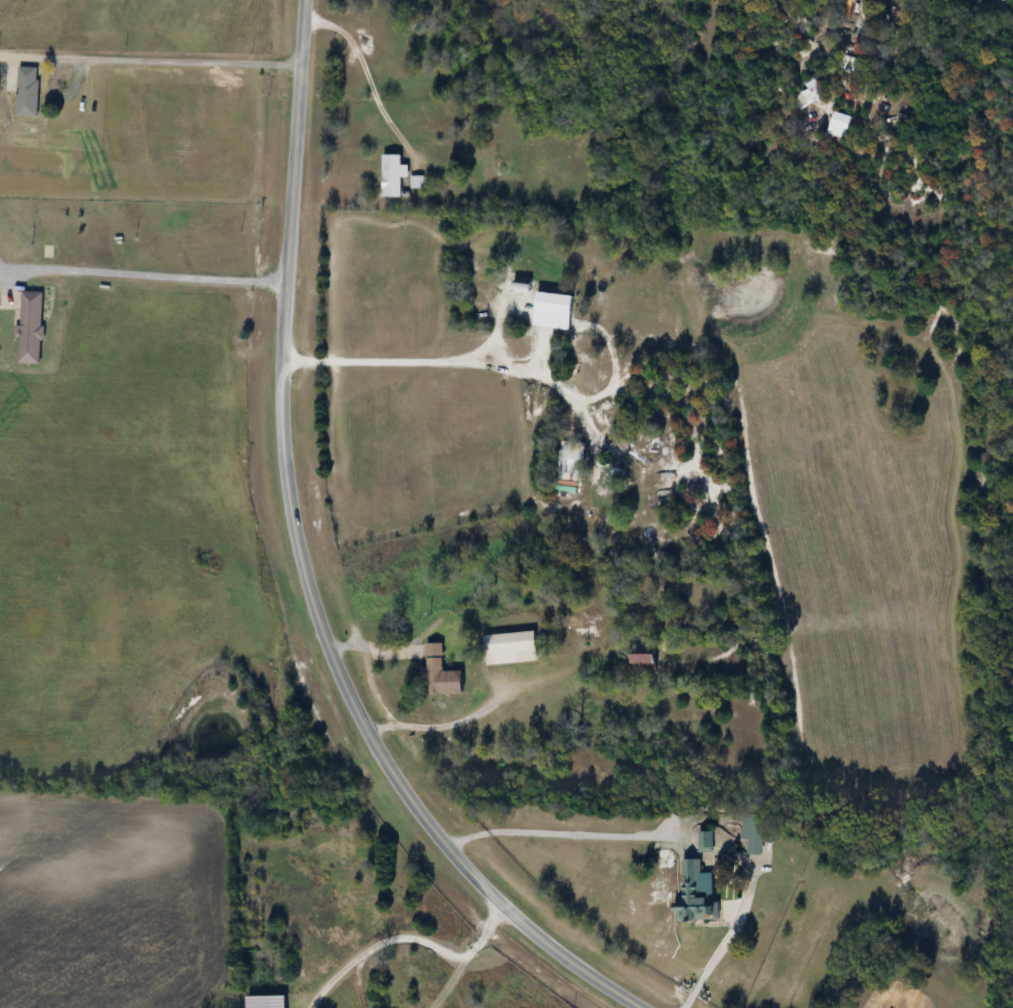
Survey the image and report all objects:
road: (791, 27)
road: (164, 60)
road: (360, 75)
building: (24, 90)
building: (813, 91)
building: (838, 130)
building: (394, 176)
road: (145, 277)
building: (523, 286)
building: (556, 303)
building: (31, 328)
road: (427, 360)
road: (308, 568)
building: (513, 648)
building: (646, 658)
building: (441, 674)
road: (448, 722)
road: (551, 831)
building: (757, 833)
building: (707, 842)
building: (695, 894)
road: (414, 938)
road: (715, 960)
road: (359, 985)
building: (268, 1002)

